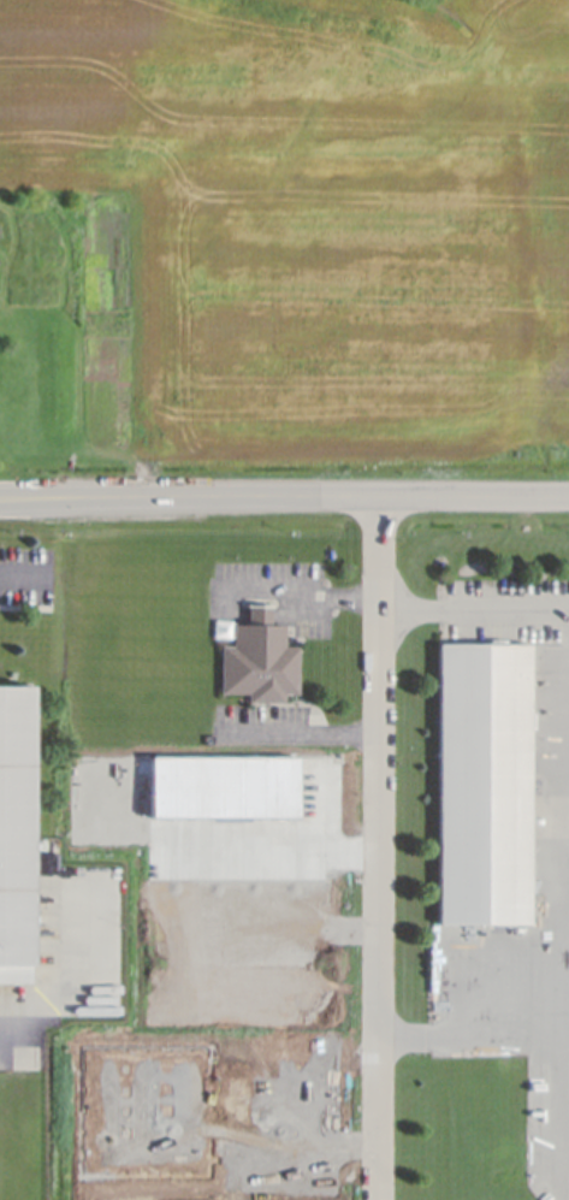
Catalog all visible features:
crop: (302, 232)
road: (25, 495)
road: (309, 497)
road: (25, 501)
road: (11, 571)
road: (297, 593)
road: (470, 609)
building: (260, 660)
road: (300, 734)
building: (485, 785)
building: (16, 834)
road: (373, 847)
road: (64, 981)
road: (498, 1031)
road: (399, 1033)

